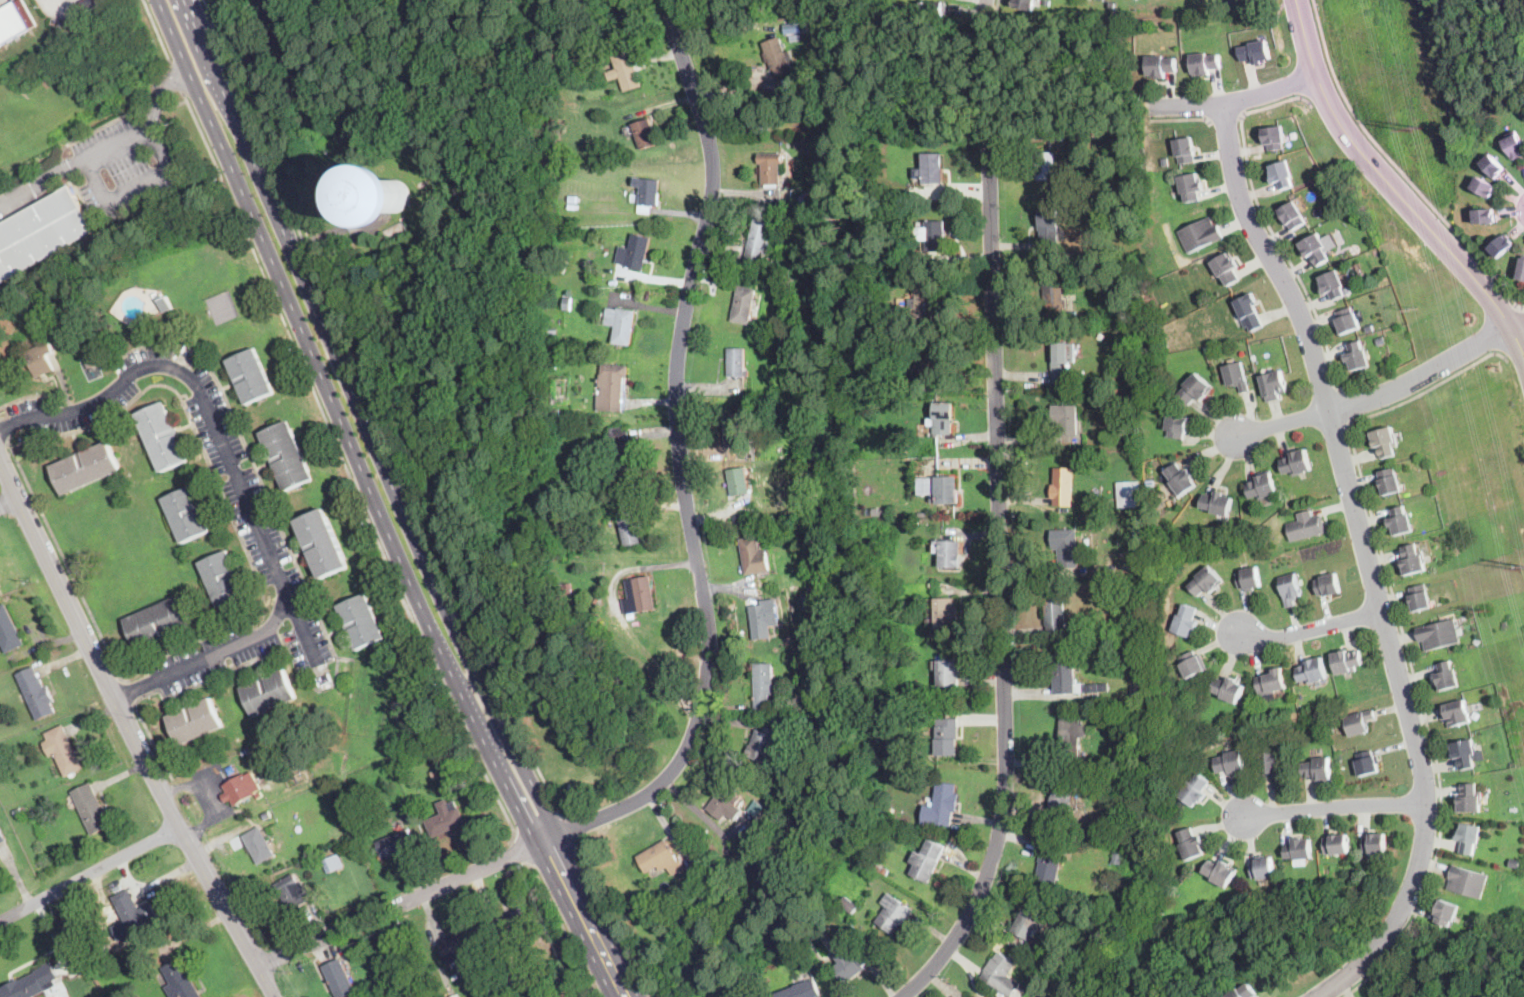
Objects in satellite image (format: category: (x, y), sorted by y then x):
building: (1047, 1)
building: (1235, 1)
parking lot: (4, 2)
building: (91, 4)
building: (1024, 5)
road: (54, 6)
road: (997, 6)
road: (985, 7)
building: (932, 8)
building: (15, 21)
road: (158, 32)
building: (615, 39)
building: (1256, 52)
building: (777, 57)
building: (1205, 64)
building: (1160, 66)
building: (627, 71)
road: (177, 78)
road: (1270, 91)
road: (158, 92)
road: (1322, 94)
road: (175, 103)
road: (155, 104)
road: (1185, 106)
road: (1224, 118)
road: (1179, 119)
road: (99, 126)
power tower: (1419, 130)
building: (1095, 132)
building: (645, 133)
building: (917, 136)
building: (1273, 138)
building: (802, 142)
building: (1514, 146)
building: (1183, 150)
road: (74, 161)
road: (1396, 165)
road: (64, 166)
parking lot: (126, 166)
building: (1046, 166)
building: (1493, 166)
building: (771, 167)
building: (932, 168)
building: (1282, 175)
road: (139, 184)
building: (1189, 187)
road: (1391, 187)
building: (1484, 187)
building: (395, 194)
building: (647, 194)
water tower: (395, 195)
building: (890, 195)
building: (570, 207)
building: (1119, 212)
building: (1292, 216)
building: (1485, 216)
road: (1268, 223)
building: (1048, 229)
building: (42, 231)
building: (933, 234)
building: (1199, 235)
building: (760, 242)
building: (1501, 246)
building: (1316, 249)
building: (635, 251)
building: (721, 262)
building: (1103, 268)
building: (1225, 268)
building: (1522, 270)
building: (1102, 277)
building: (1333, 285)
building: (1054, 289)
building: (1348, 289)
building: (163, 301)
building: (565, 302)
building: (743, 304)
building: (924, 304)
power tower: (1412, 307)
road: (1522, 310)
building: (1248, 312)
building: (1347, 322)
building: (620, 324)
building: (1370, 326)
road: (1518, 327)
building: (1162, 329)
building: (551, 332)
building: (1382, 339)
building: (552, 341)
building: (1206, 347)
road: (1513, 349)
building: (1254, 355)
building: (1357, 356)
building: (40, 359)
building: (737, 362)
building: (930, 362)
building: (1062, 362)
building: (551, 364)
building: (250, 376)
building: (1235, 376)
building: (1273, 385)
building: (611, 387)
building: (1194, 389)
road: (1379, 394)
parking lot: (91, 396)
road: (1347, 406)
building: (555, 413)
road: (376, 416)
building: (943, 417)
building: (1065, 419)
road: (342, 424)
road: (9, 425)
building: (1177, 426)
building: (734, 430)
building: (555, 431)
building: (1125, 432)
road: (3, 433)
building: (162, 437)
building: (1384, 442)
building: (902, 444)
building: (620, 449)
building: (286, 455)
road: (679, 463)
building: (1297, 463)
building: (85, 467)
road: (346, 468)
road: (236, 471)
building: (1180, 479)
building: (739, 481)
building: (1389, 481)
road: (219, 485)
building: (1262, 485)
building: (1062, 486)
building: (940, 488)
building: (1128, 492)
road: (8, 503)
road: (401, 503)
building: (1217, 503)
building: (1162, 504)
building: (185, 514)
parking lot: (255, 519)
building: (1400, 521)
building: (1305, 526)
building: (564, 527)
building: (631, 527)
building: (1247, 527)
building: (915, 528)
building: (1137, 531)
building: (1179, 534)
building: (322, 543)
building: (1065, 546)
building: (948, 553)
building: (754, 555)
road: (1368, 560)
building: (1413, 560)
road: (65, 561)
building: (222, 578)
building: (1248, 579)
building: (1205, 581)
road: (1000, 583)
building: (931, 585)
building: (1327, 585)
building: (563, 588)
building: (1289, 588)
building: (639, 595)
building: (1419, 597)
building: (807, 602)
power tower: (1487, 609)
building: (1054, 611)
building: (946, 613)
building: (764, 618)
building: (159, 621)
building: (361, 621)
building: (1185, 621)
road: (1311, 628)
road: (303, 630)
building: (8, 631)
building: (1438, 634)
road: (1404, 637)
parking lot: (212, 655)
building: (1346, 660)
building: (799, 662)
building: (1192, 664)
building: (1312, 670)
building: (947, 672)
building: (1063, 674)
building: (1446, 676)
building: (1272, 681)
building: (763, 686)
building: (1097, 687)
road: (135, 689)
building: (1229, 689)
building: (1136, 690)
building: (268, 692)
building: (36, 693)
road: (129, 693)
building: (919, 697)
building: (1456, 713)
road: (123, 718)
building: (194, 721)
building: (1358, 722)
building: (947, 736)
building: (1070, 736)
road: (155, 744)
building: (764, 744)
building: (892, 748)
building: (62, 749)
building: (245, 750)
building: (790, 754)
building: (1463, 754)
building: (892, 759)
building: (1229, 763)
building: (1367, 763)
building: (1272, 764)
building: (1317, 769)
building: (434, 775)
building: (1083, 784)
building: (241, 788)
building: (1193, 790)
building: (1061, 798)
building: (1469, 798)
building: (726, 803)
building: (941, 805)
road: (1334, 806)
building: (756, 807)
building: (91, 808)
building: (17, 811)
building: (267, 813)
building: (781, 816)
building: (446, 818)
building: (1111, 823)
road: (573, 829)
building: (2, 837)
building: (1468, 838)
building: (395, 843)
building: (1375, 843)
building: (259, 844)
building: (1190, 844)
building: (1336, 845)
building: (1298, 849)
road: (526, 854)
building: (1118, 858)
building: (660, 859)
building: (927, 860)
building: (1049, 860)
building: (1515, 861)
building: (867, 862)
building: (331, 863)
building: (1263, 868)
building: (881, 870)
building: (1220, 872)
road: (88, 873)
building: (1468, 881)
building: (685, 882)
building: (290, 892)
road: (397, 906)
building: (850, 906)
building: (134, 912)
building: (1447, 912)
building: (893, 913)
road: (613, 917)
road: (576, 920)
building: (508, 924)
building: (1027, 925)
road: (567, 932)
building: (457, 946)
building: (796, 951)
building: (1042, 952)
building: (853, 962)
building: (1001, 974)
building: (339, 979)
building: (179, 981)
road: (265, 982)
building: (32, 983)
building: (368, 986)
building: (362, 989)
building: (800, 990)
building: (532, 992)
building: (1243, 992)

